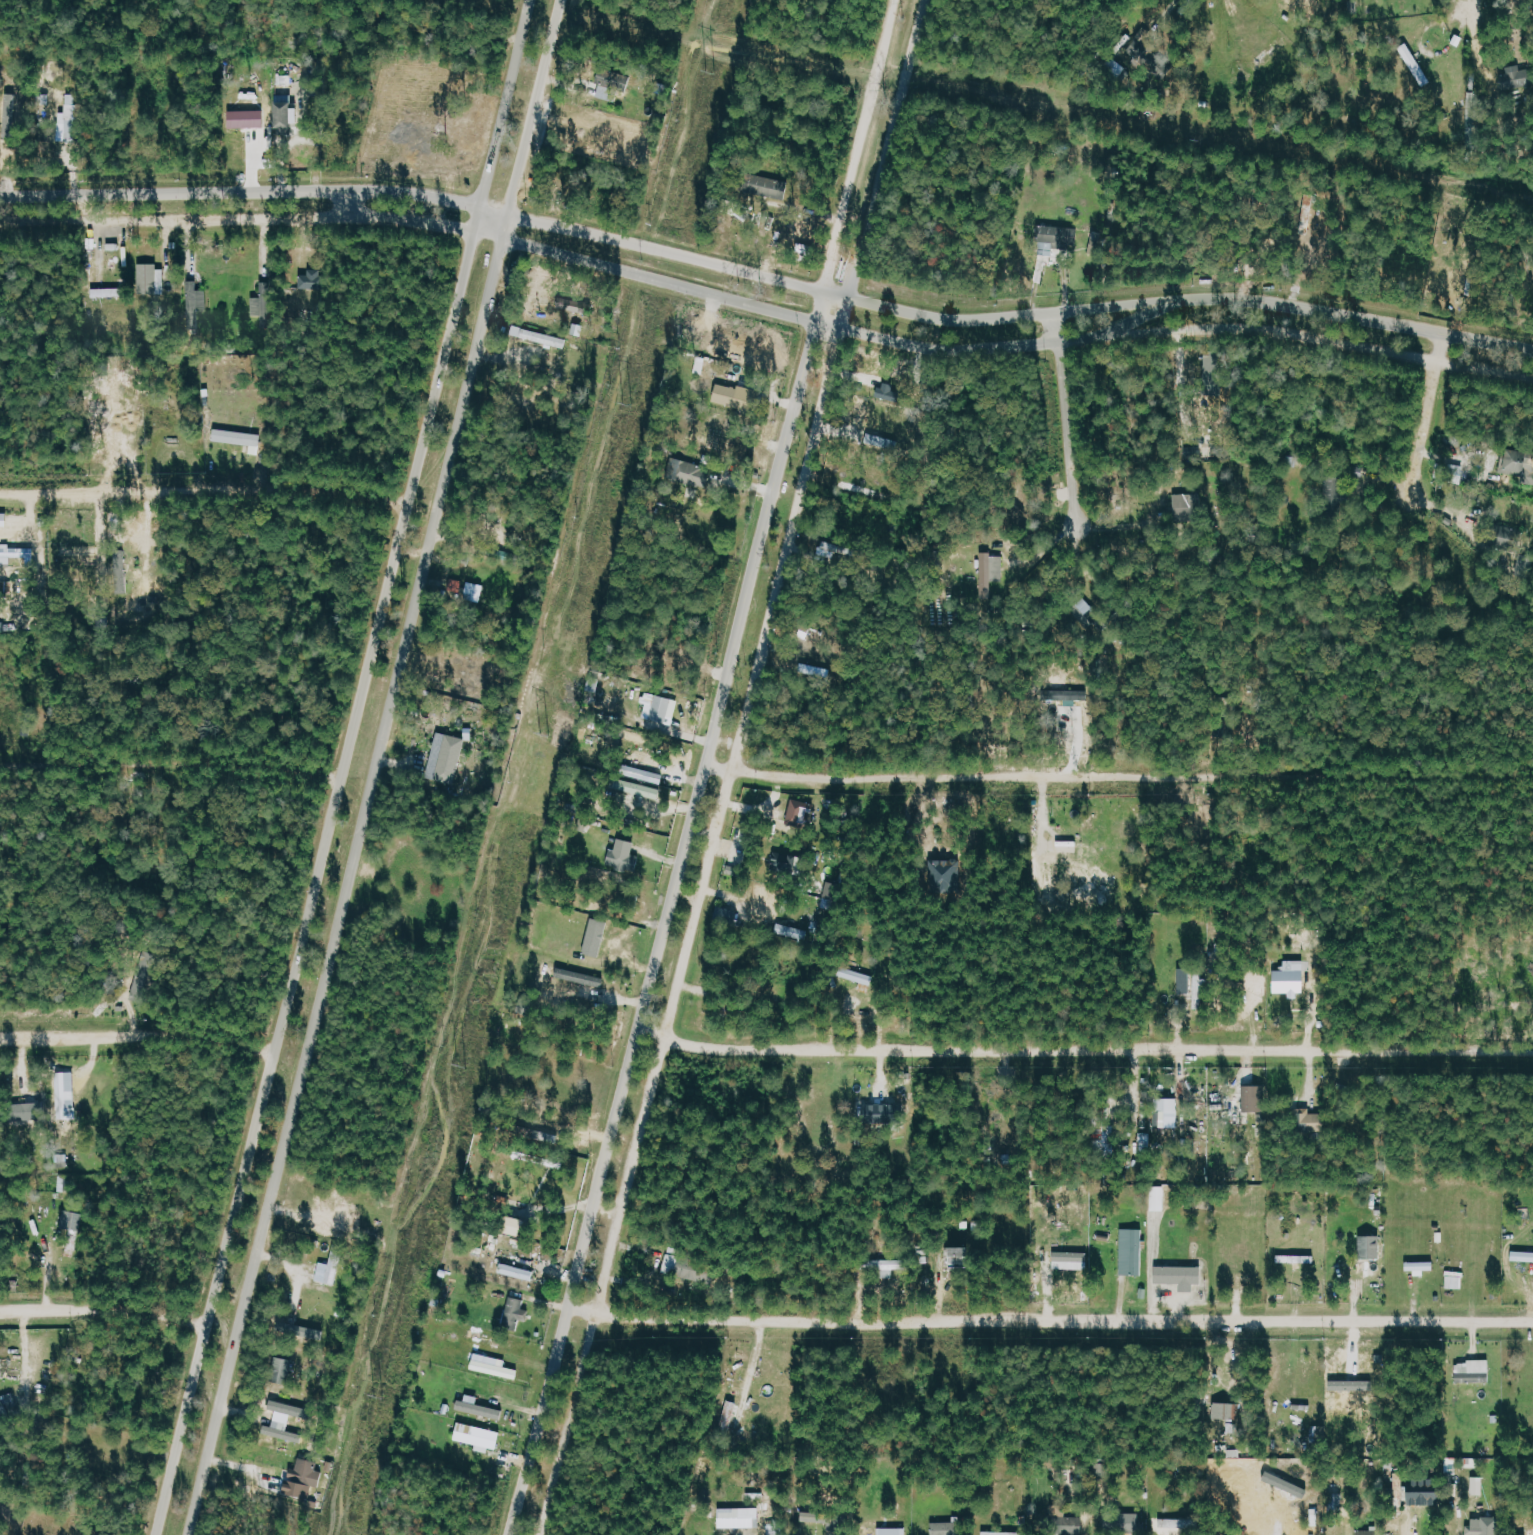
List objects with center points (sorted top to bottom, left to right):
road: (1464, 10)
building: (1266, 51)
building: (1146, 57)
building: (1415, 63)
power tower: (710, 72)
building: (1517, 77)
building: (612, 84)
building: (286, 110)
building: (70, 118)
building: (247, 119)
building: (1058, 235)
road: (766, 274)
building: (152, 279)
building: (312, 281)
building: (196, 301)
building: (263, 306)
road: (766, 306)
building: (539, 337)
building: (733, 396)
power tower: (627, 403)
road: (1429, 412)
road: (1066, 431)
building: (237, 437)
building: (883, 441)
building: (1518, 464)
building: (686, 472)
building: (1330, 488)
road: (204, 499)
building: (1183, 504)
building: (15, 553)
building: (988, 573)
building: (475, 591)
building: (1088, 610)
building: (1063, 695)
building: (660, 708)
power tower: (544, 735)
building: (447, 758)
road: (170, 763)
road: (343, 767)
road: (374, 767)
road: (734, 768)
road: (708, 769)
building: (645, 774)
road: (1133, 775)
building: (638, 789)
building: (801, 814)
building: (1063, 850)
building: (625, 856)
building: (793, 864)
building: (764, 900)
building: (727, 916)
building: (597, 936)
building: (585, 978)
building: (858, 978)
building: (1290, 981)
building: (144, 982)
building: (1192, 984)
road: (137, 1034)
road: (1083, 1047)
power tower: (459, 1068)
building: (66, 1091)
building: (1254, 1098)
building: (884, 1112)
building: (1166, 1112)
building: (1314, 1121)
building: (1158, 1197)
building: (72, 1219)
building: (517, 1226)
building: (1371, 1246)
building: (1132, 1251)
building: (962, 1256)
building: (1071, 1256)
building: (1523, 1256)
building: (1297, 1258)
building: (887, 1267)
building: (1421, 1267)
building: (330, 1268)
building: (689, 1268)
building: (517, 1272)
building: (1180, 1276)
building: (1455, 1279)
road: (104, 1309)
building: (515, 1313)
road: (1050, 1319)
building: (306, 1333)
building: (283, 1369)
building: (495, 1369)
building: (1473, 1371)
power tower: (378, 1397)
building: (4, 1408)
building: (479, 1408)
building: (1226, 1410)
building: (729, 1414)
building: (282, 1431)
building: (479, 1436)
building: (304, 1478)
building: (1425, 1491)
building: (812, 1516)
building: (739, 1517)
building: (1065, 1521)
building: (1120, 1522)
building: (943, 1528)
building: (1479, 1528)
building: (1367, 1532)
building: (1002, 1533)

